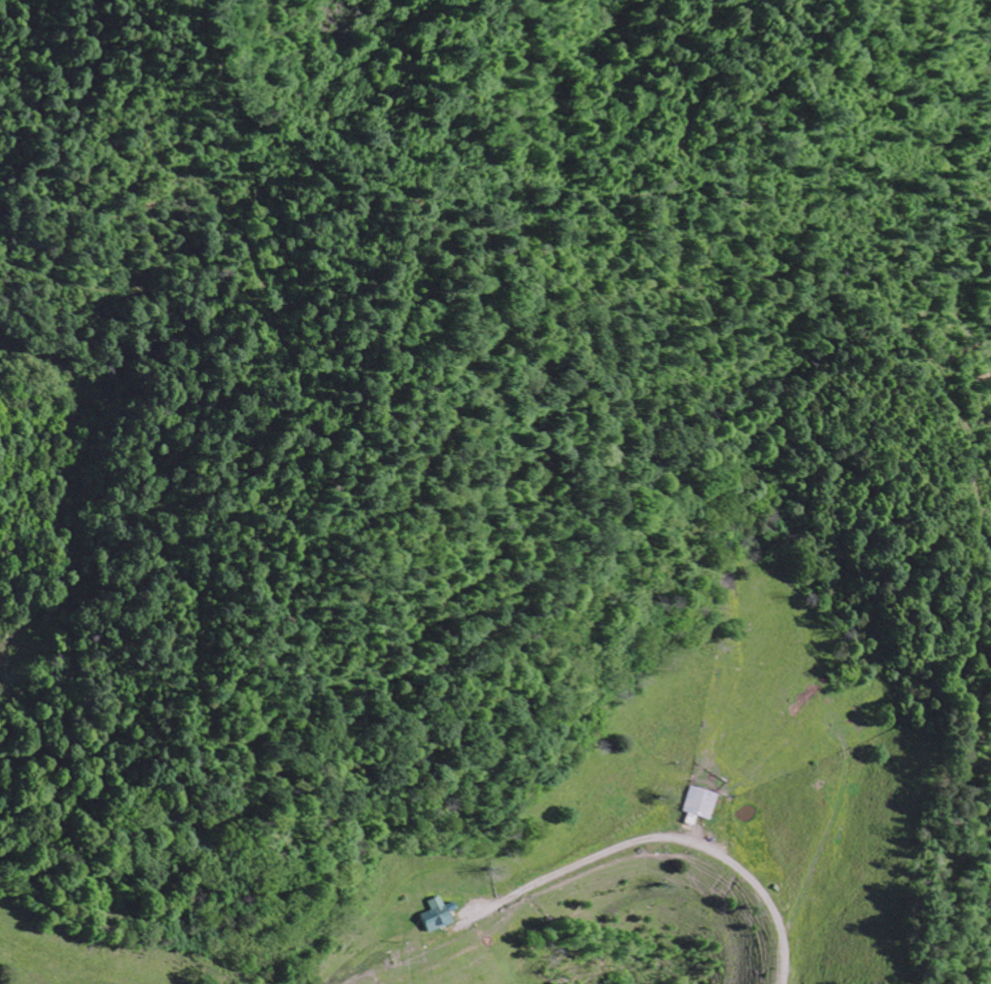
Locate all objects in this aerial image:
building: (693, 804)
building: (439, 914)

